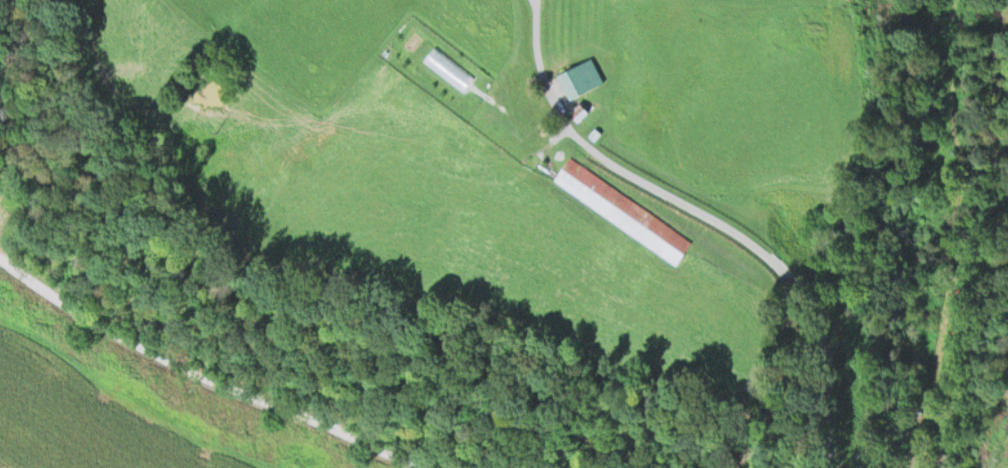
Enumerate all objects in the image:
building: (580, 77)
building: (624, 209)
road: (708, 216)
road: (216, 373)
crop: (144, 402)
building: (1000, 440)

